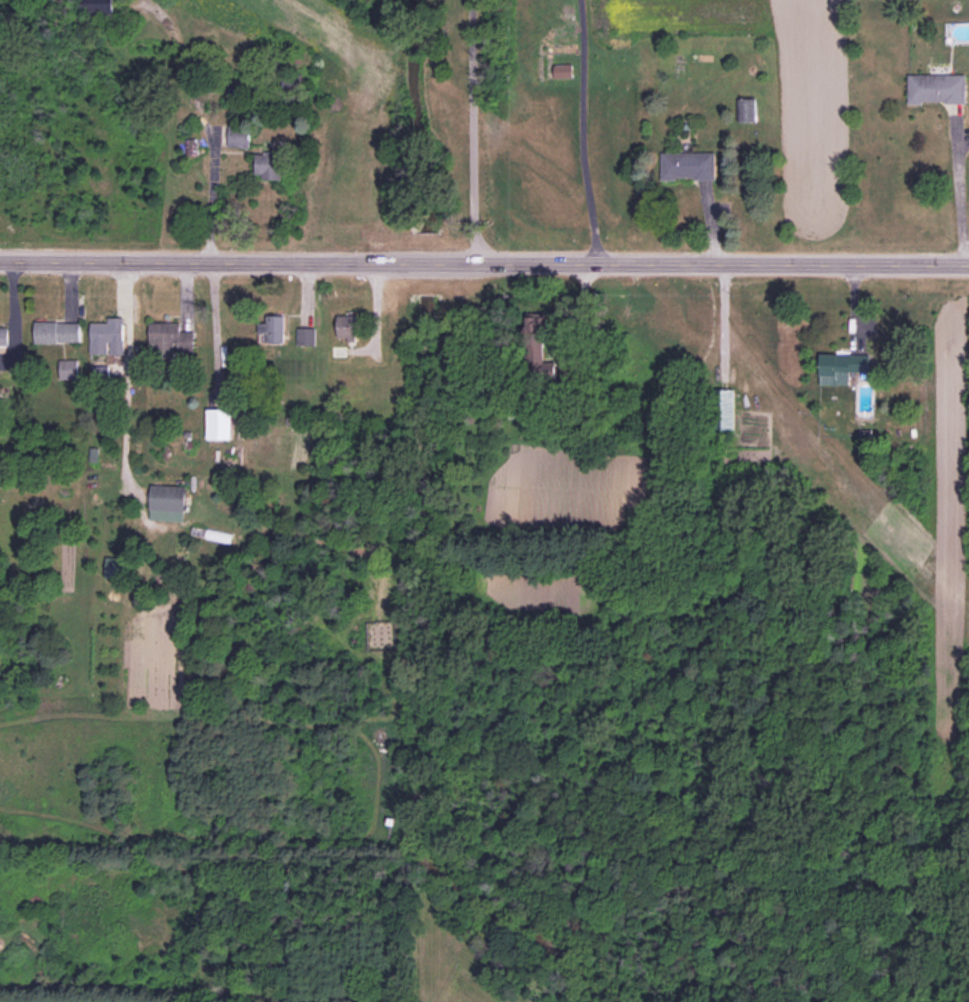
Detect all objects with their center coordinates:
building: (99, 9)
building: (562, 70)
building: (936, 87)
crop: (783, 91)
building: (746, 110)
road: (204, 118)
road: (475, 132)
road: (582, 133)
building: (238, 135)
building: (687, 164)
building: (268, 165)
road: (960, 193)
road: (484, 265)
building: (346, 326)
building: (272, 327)
building: (56, 331)
building: (3, 335)
building: (305, 335)
building: (106, 336)
building: (168, 339)
building: (537, 350)
building: (339, 351)
building: (841, 367)
building: (68, 368)
building: (100, 372)
building: (721, 409)
building: (166, 502)

